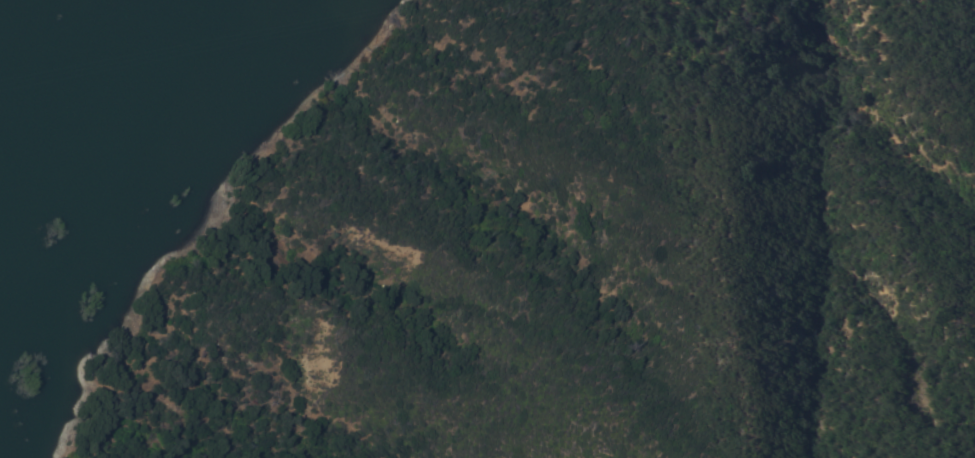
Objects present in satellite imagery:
river: (65, 129)

